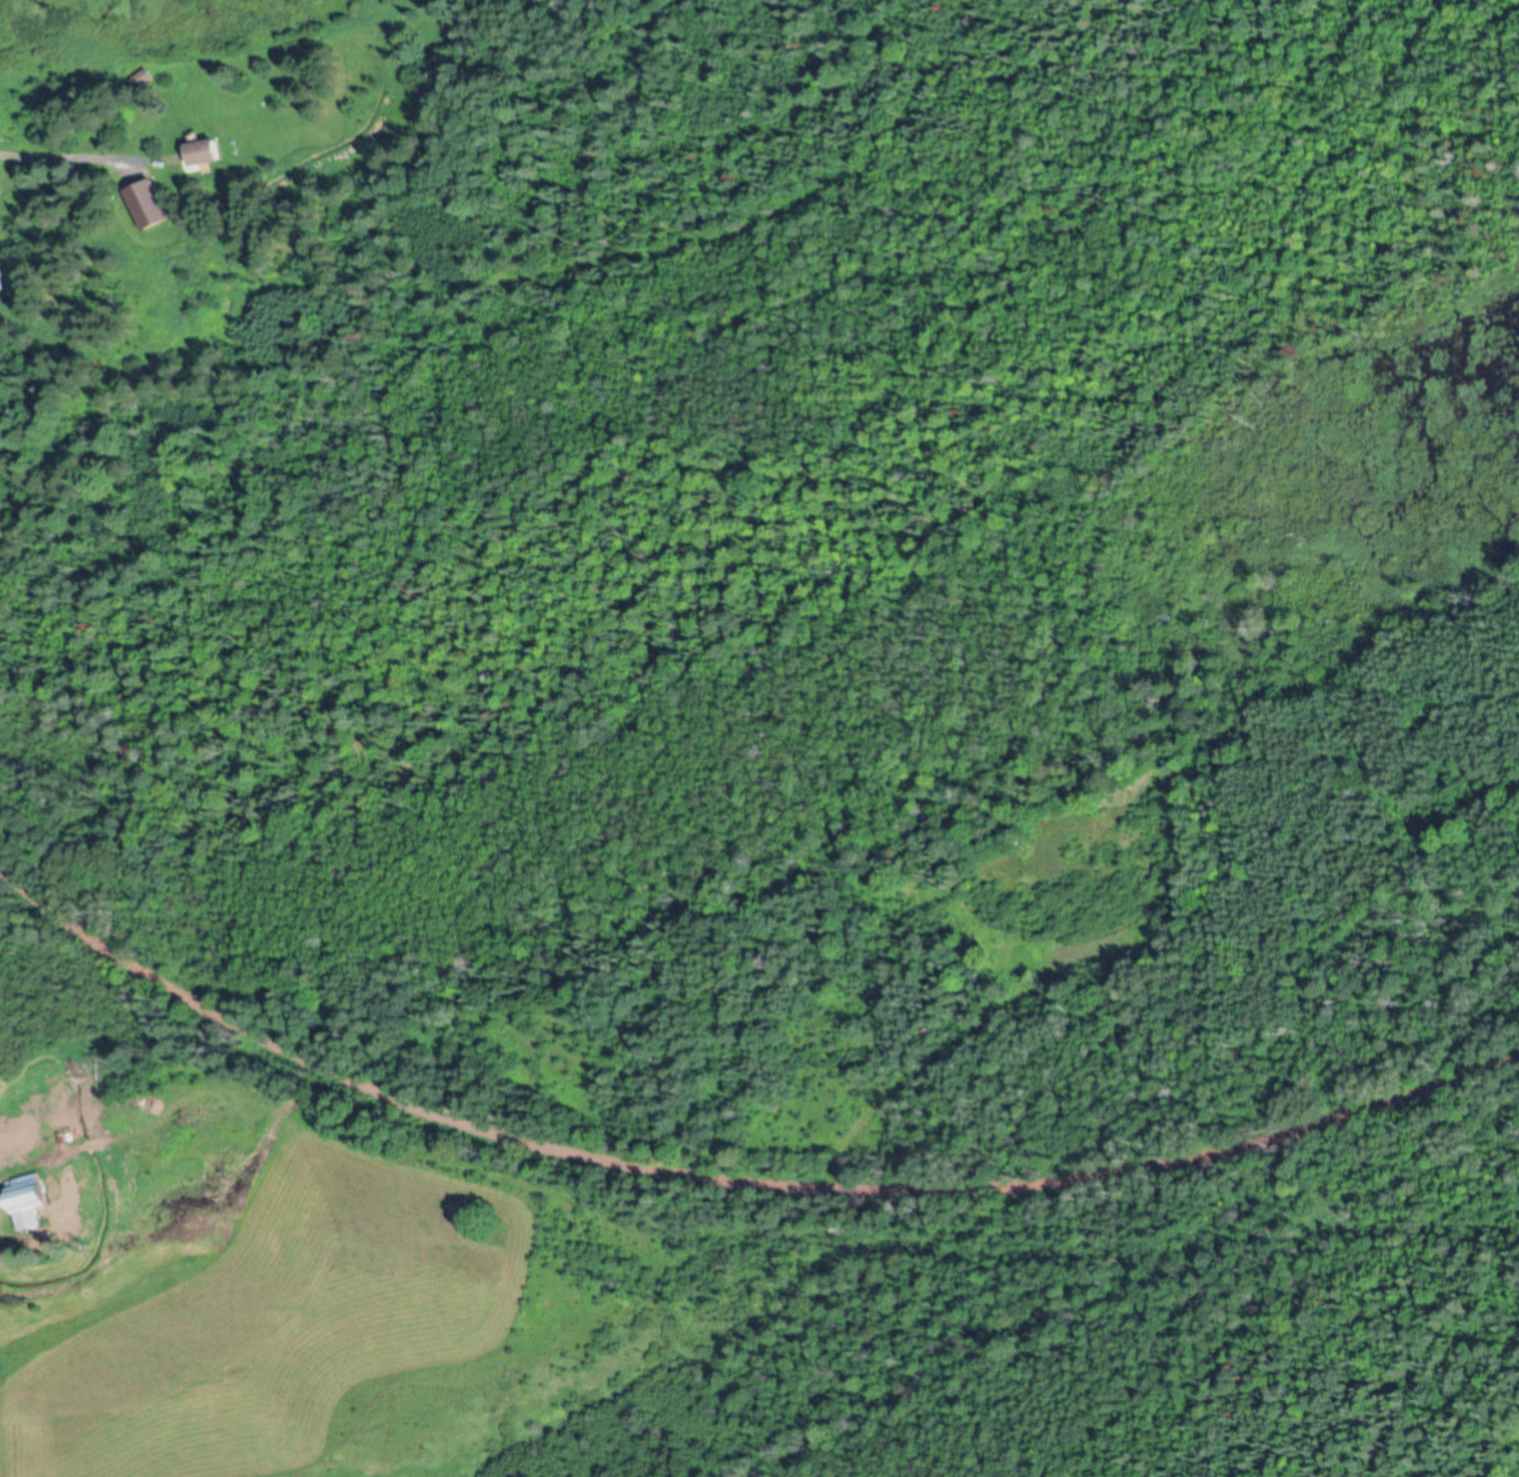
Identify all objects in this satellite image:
building: (206, 155)
road: (9, 156)
building: (149, 207)
building: (1, 283)
building: (7, 1158)
road: (730, 1181)
building: (29, 1203)

